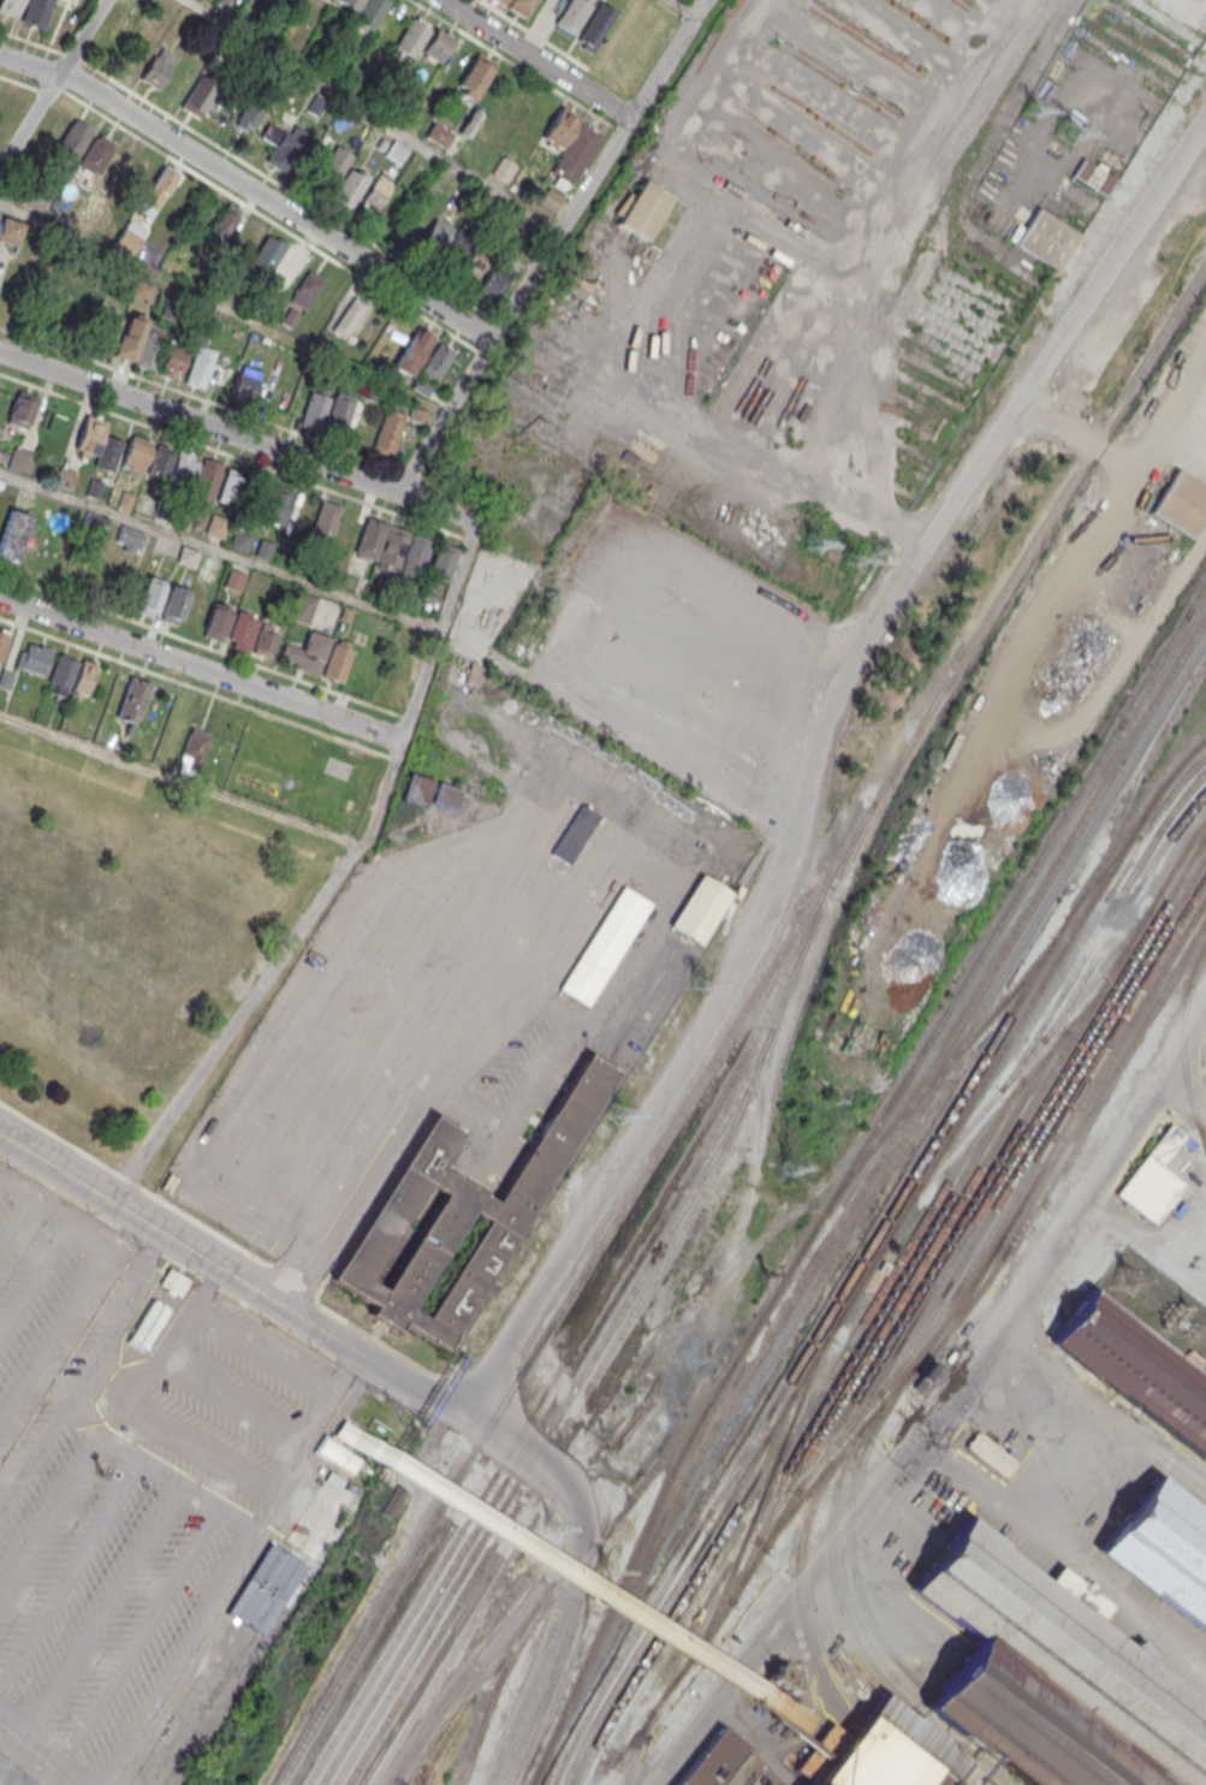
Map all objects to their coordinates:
building: (500, 1)
building: (346, 4)
building: (521, 6)
building: (10, 7)
road: (682, 7)
building: (36, 12)
building: (370, 12)
building: (574, 14)
building: (596, 25)
building: (119, 35)
building: (412, 37)
building: (438, 45)
road: (667, 58)
road: (535, 59)
building: (458, 61)
building: (158, 69)
building: (474, 78)
road: (52, 85)
building: (200, 96)
power tower: (1030, 108)
building: (249, 115)
road: (373, 117)
building: (470, 124)
building: (562, 126)
power tower: (1067, 130)
building: (439, 136)
building: (73, 140)
building: (283, 146)
building: (396, 152)
building: (96, 154)
building: (576, 154)
road: (255, 168)
building: (503, 170)
building: (115, 178)
building: (1093, 178)
building: (340, 180)
road: (250, 189)
building: (156, 194)
building: (376, 194)
building: (549, 200)
road: (245, 203)
building: (642, 209)
building: (224, 224)
road: (560, 229)
building: (10, 231)
building: (435, 237)
building: (1046, 239)
building: (279, 259)
building: (493, 279)
building: (307, 287)
road: (222, 308)
building: (349, 316)
road: (1071, 327)
building: (126, 340)
building: (149, 350)
building: (412, 351)
building: (172, 361)
building: (439, 361)
building: (200, 366)
building: (244, 384)
road: (196, 397)
building: (314, 410)
building: (17, 411)
building: (339, 413)
road: (444, 415)
building: (387, 432)
road: (238, 434)
road: (194, 441)
building: (95, 445)
building: (144, 458)
building: (19, 459)
building: (197, 476)
building: (233, 488)
building: (1181, 504)
building: (275, 505)
building: (325, 520)
building: (216, 527)
building: (13, 535)
building: (370, 538)
building: (127, 539)
building: (239, 541)
power tower: (814, 542)
building: (392, 545)
road: (221, 551)
building: (416, 555)
building: (188, 556)
power tower: (850, 561)
building: (442, 563)
building: (150, 595)
building: (173, 604)
building: (304, 609)
road: (563, 611)
building: (196, 612)
building: (218, 619)
building: (242, 629)
building: (266, 640)
building: (4, 641)
building: (314, 652)
building: (34, 658)
building: (338, 662)
road: (201, 669)
building: (63, 675)
building: (85, 676)
building: (133, 699)
railway: (1176, 746)
building: (194, 748)
railway: (1149, 753)
park: (307, 772)
road: (180, 782)
building: (417, 790)
building: (447, 796)
railway: (1095, 797)
railway: (1136, 802)
road: (553, 808)
railway: (1100, 811)
railway: (1136, 826)
building: (574, 834)
road: (337, 883)
building: (700, 909)
railway: (1121, 912)
railway: (1064, 924)
railway: (1099, 925)
building: (605, 945)
railway: (968, 971)
power tower: (697, 982)
road: (725, 982)
road: (610, 997)
railway: (1065, 1009)
railway: (741, 1019)
railway: (1183, 1043)
road: (357, 1048)
railway: (940, 1071)
railway: (972, 1084)
power tower: (619, 1105)
railway: (735, 1123)
railway: (1068, 1125)
railway: (1040, 1131)
railway: (1021, 1140)
power tower: (785, 1168)
building: (1152, 1178)
railway: (1012, 1196)
road: (57, 1212)
building: (461, 1215)
road: (16, 1222)
railway: (1004, 1249)
railway: (895, 1267)
road: (36, 1280)
railway: (899, 1280)
power tower: (1122, 1280)
railway: (815, 1282)
railway: (909, 1283)
road: (277, 1301)
power substation: (1155, 1303)
railway: (843, 1307)
building: (147, 1326)
road: (55, 1339)
railway: (575, 1340)
railway: (886, 1340)
railway: (802, 1356)
building: (1133, 1372)
railway: (745, 1375)
building: (926, 1377)
parking lot: (227, 1406)
railway: (548, 1407)
railway: (542, 1439)
road: (119, 1451)
building: (986, 1455)
road: (30, 1461)
railway: (644, 1481)
railway: (758, 1502)
parking lot: (96, 1504)
road: (214, 1506)
road: (49, 1518)
power tower: (549, 1524)
railway: (849, 1529)
building: (1159, 1549)
railway: (632, 1556)
road: (1076, 1562)
power tower: (605, 1567)
road: (69, 1575)
road: (571, 1575)
railway: (798, 1582)
railway: (683, 1589)
railway: (701, 1606)
road: (100, 1607)
railway: (844, 1614)
road: (564, 1630)
road: (138, 1637)
railway: (433, 1641)
road: (176, 1659)
railway: (444, 1665)
building: (1051, 1678)
railway: (498, 1686)
building: (785, 1709)
railway: (637, 1744)
road: (40, 1749)
building: (887, 1751)
building: (717, 1760)

